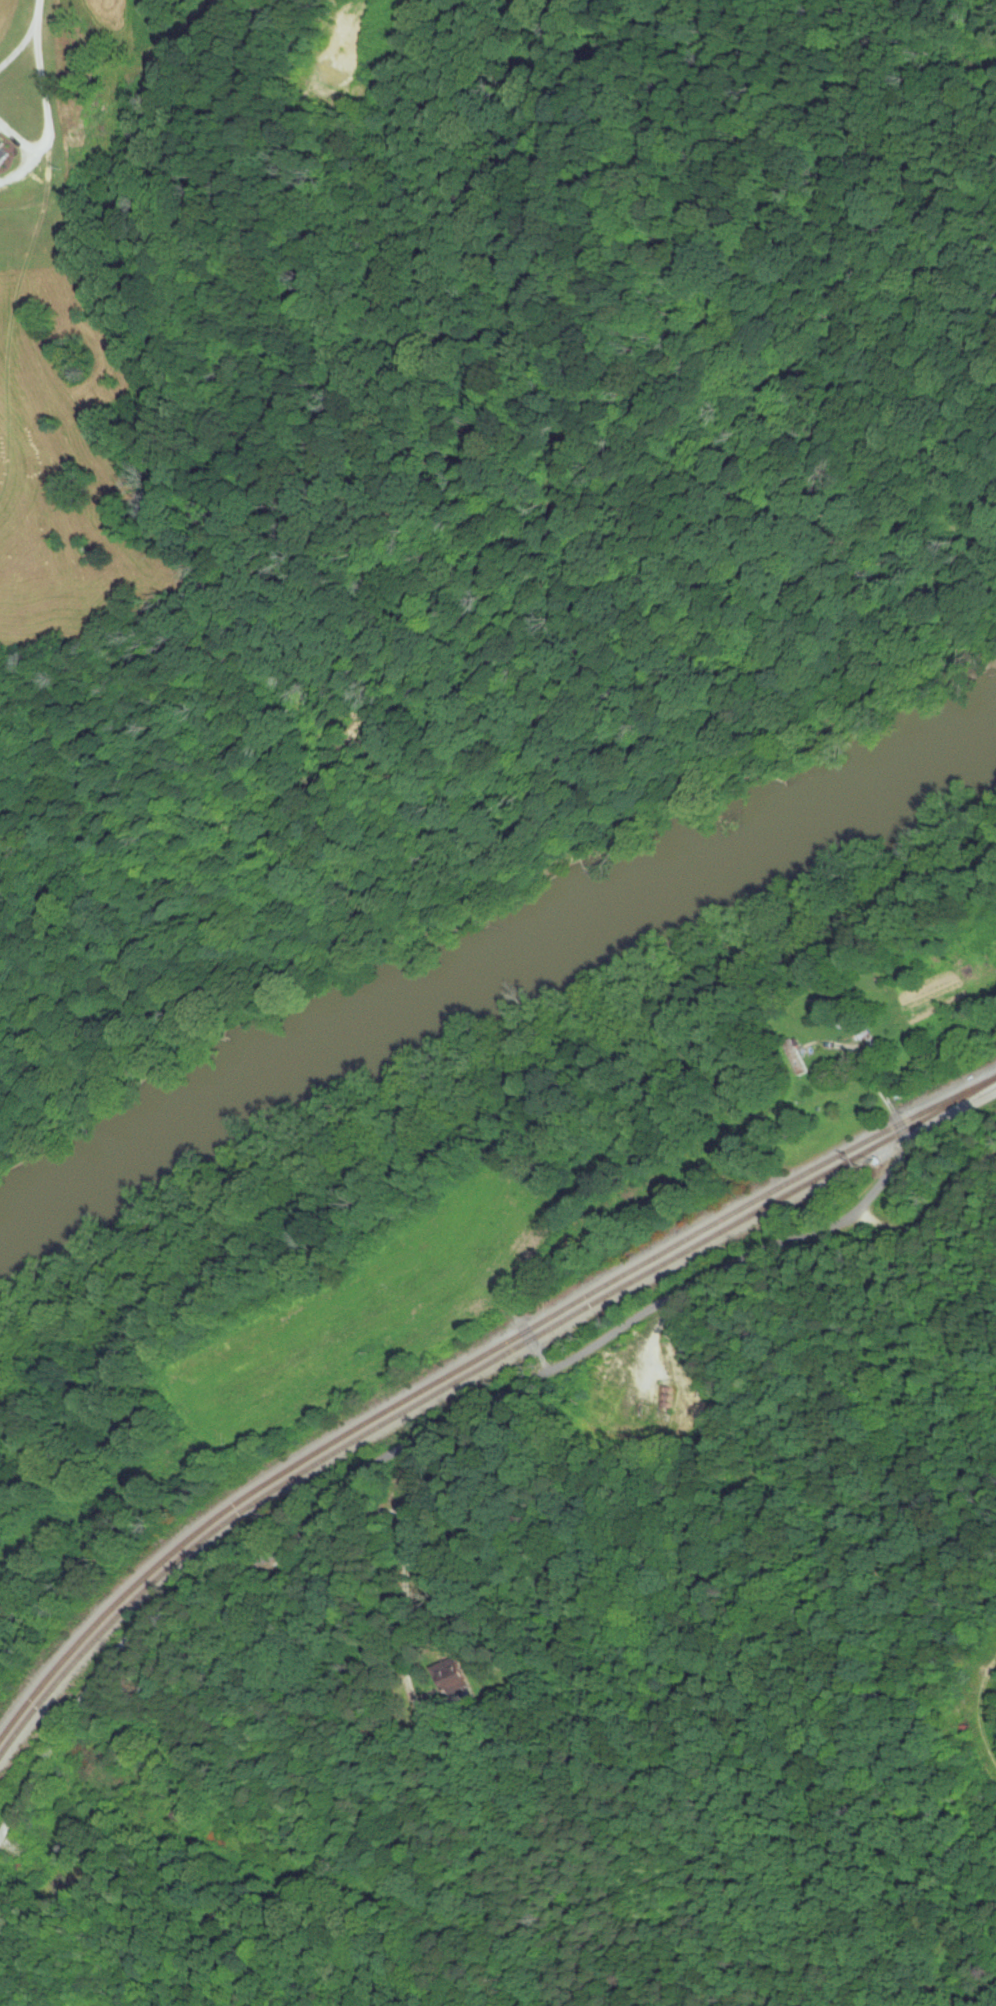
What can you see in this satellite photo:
river: (494, 991)
railway: (465, 1369)
road: (460, 1421)
building: (455, 1676)

